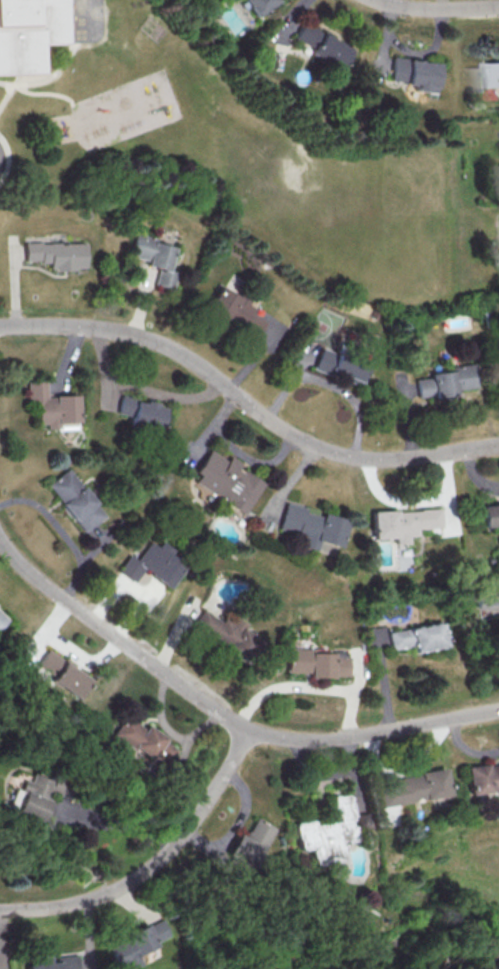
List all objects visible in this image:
building: (249, 5)
road: (437, 8)
building: (24, 32)
building: (313, 45)
building: (406, 73)
road: (38, 74)
building: (487, 78)
road: (4, 82)
road: (33, 93)
building: (50, 254)
building: (148, 258)
building: (228, 311)
building: (498, 364)
building: (332, 365)
building: (440, 381)
building: (45, 405)
road: (245, 406)
building: (137, 411)
building: (223, 481)
building: (70, 500)
building: (489, 518)
building: (400, 523)
building: (310, 526)
building: (150, 564)
building: (484, 596)
building: (0, 617)
building: (229, 635)
building: (374, 636)
building: (416, 637)
building: (317, 663)
building: (59, 673)
road: (223, 713)
building: (142, 741)
building: (482, 777)
building: (415, 788)
building: (32, 797)
road: (120, 824)
building: (328, 833)
building: (250, 843)
river: (49, 863)
road: (154, 863)
river: (124, 888)
building: (142, 944)
building: (62, 963)
river: (331, 964)

